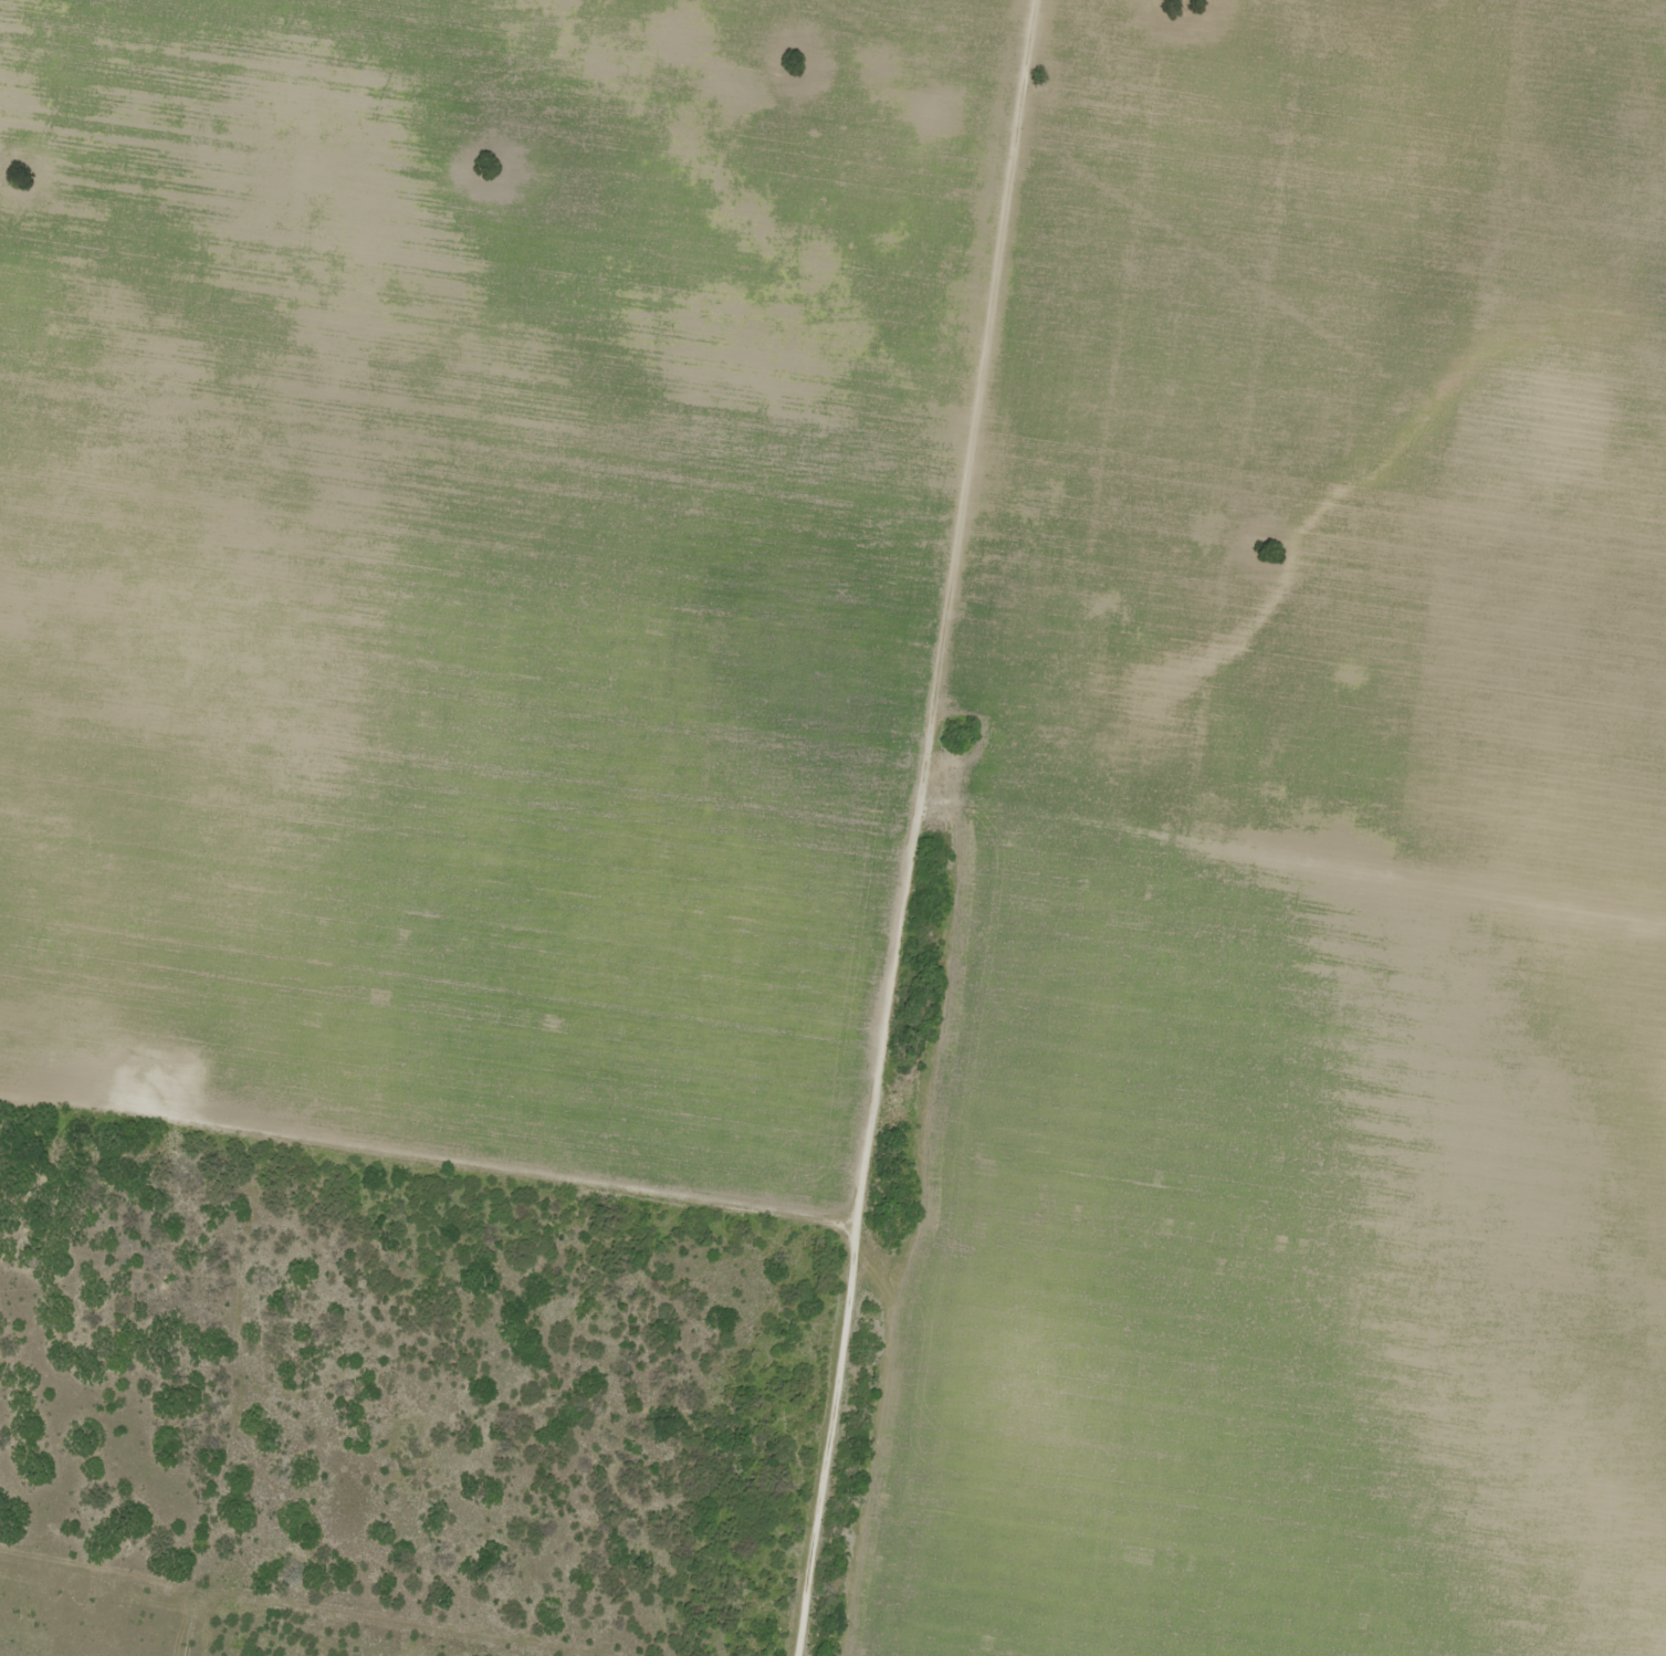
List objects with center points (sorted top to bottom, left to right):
road: (1374, 382)
road: (810, 646)
road: (894, 827)
road: (419, 1163)

